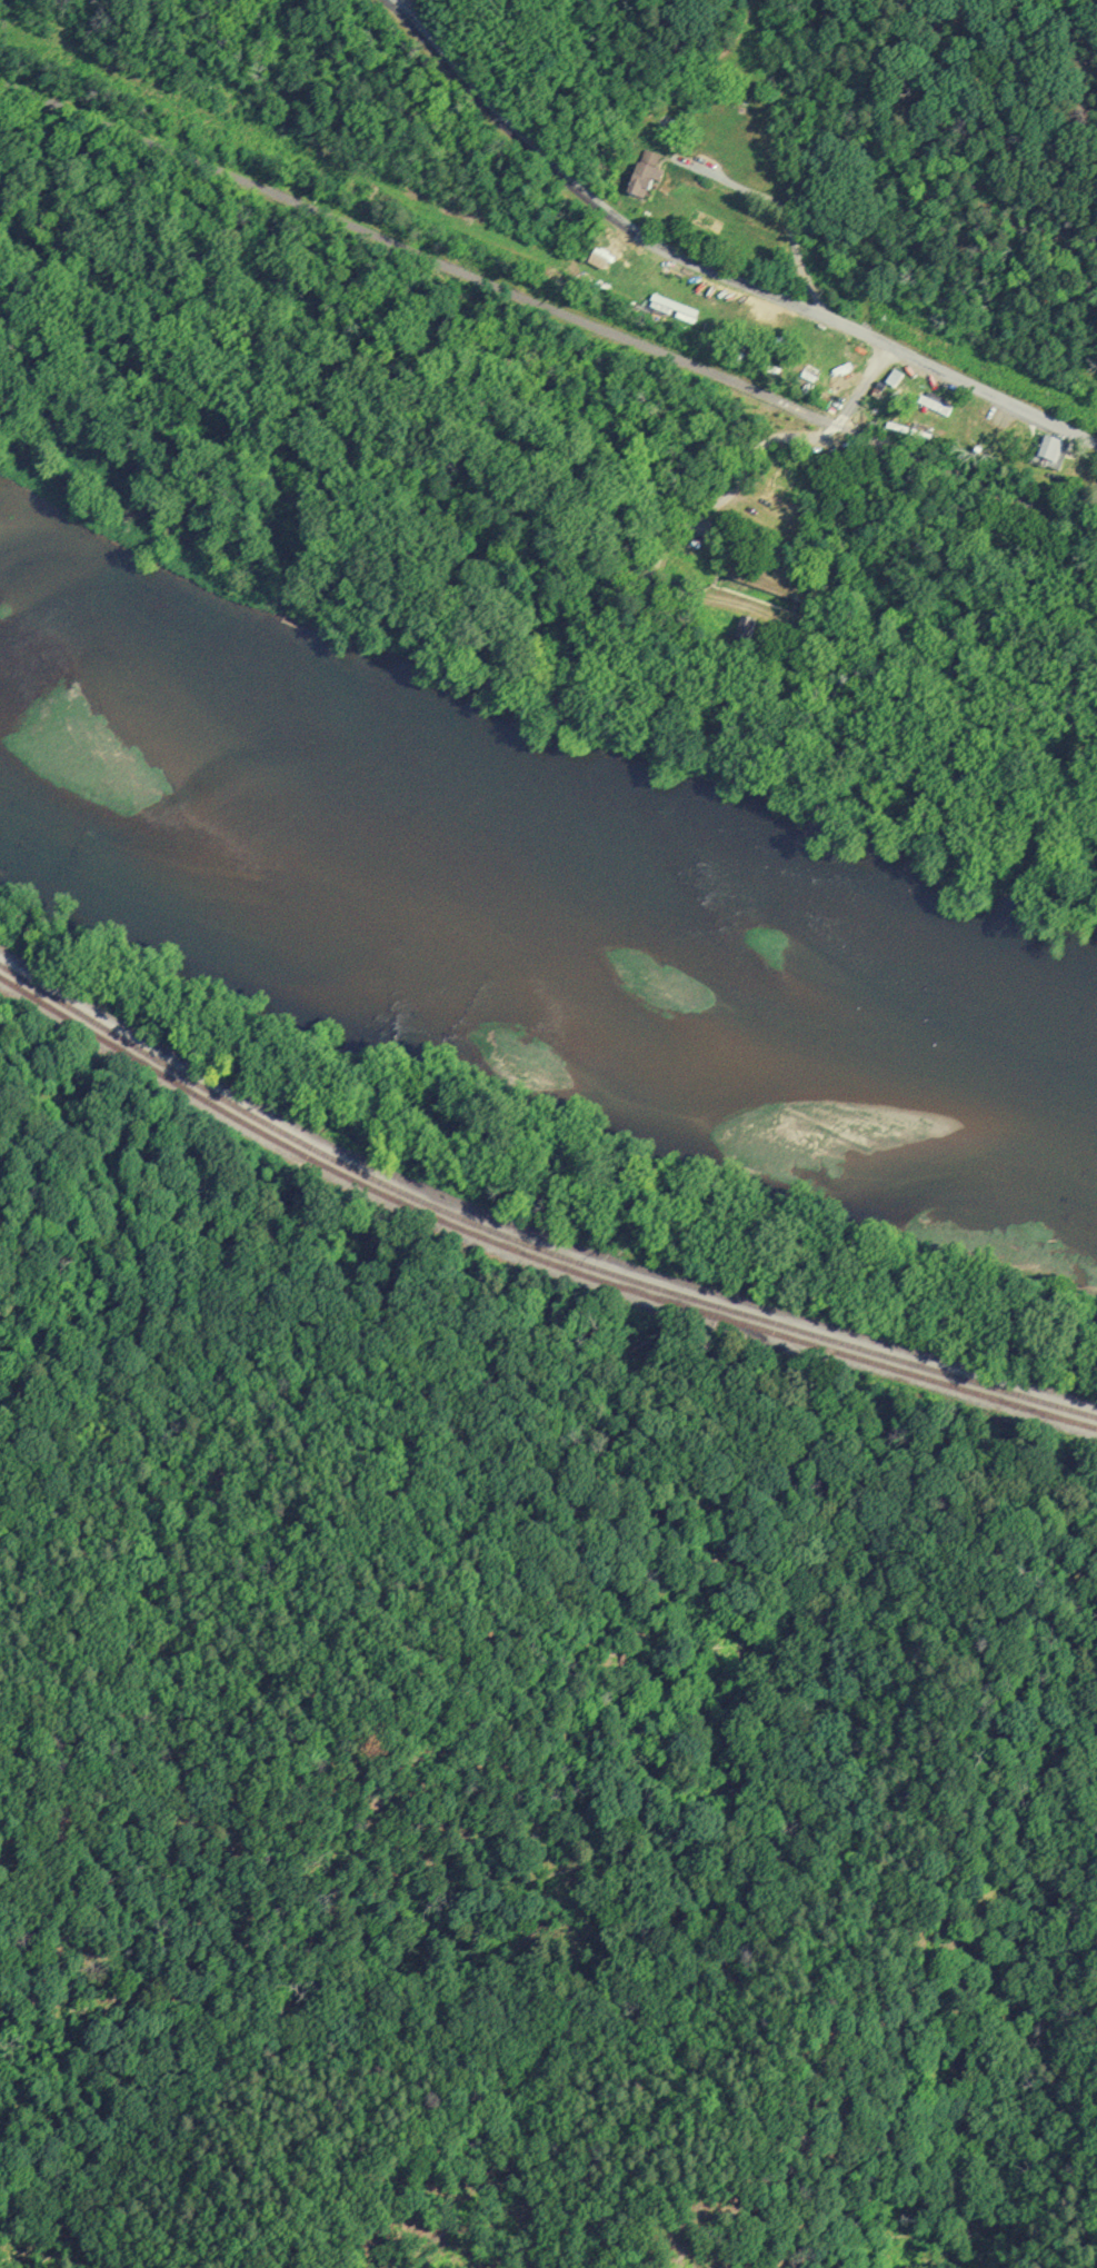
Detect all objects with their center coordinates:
building: (649, 175)
road: (709, 270)
park: (517, 296)
road: (548, 307)
building: (936, 400)
road: (798, 438)
building: (1050, 449)
building: (790, 480)
road: (520, 520)
road: (665, 551)
building: (745, 631)
river: (547, 919)
road: (525, 1235)
railway: (526, 1244)
railway: (526, 1255)

